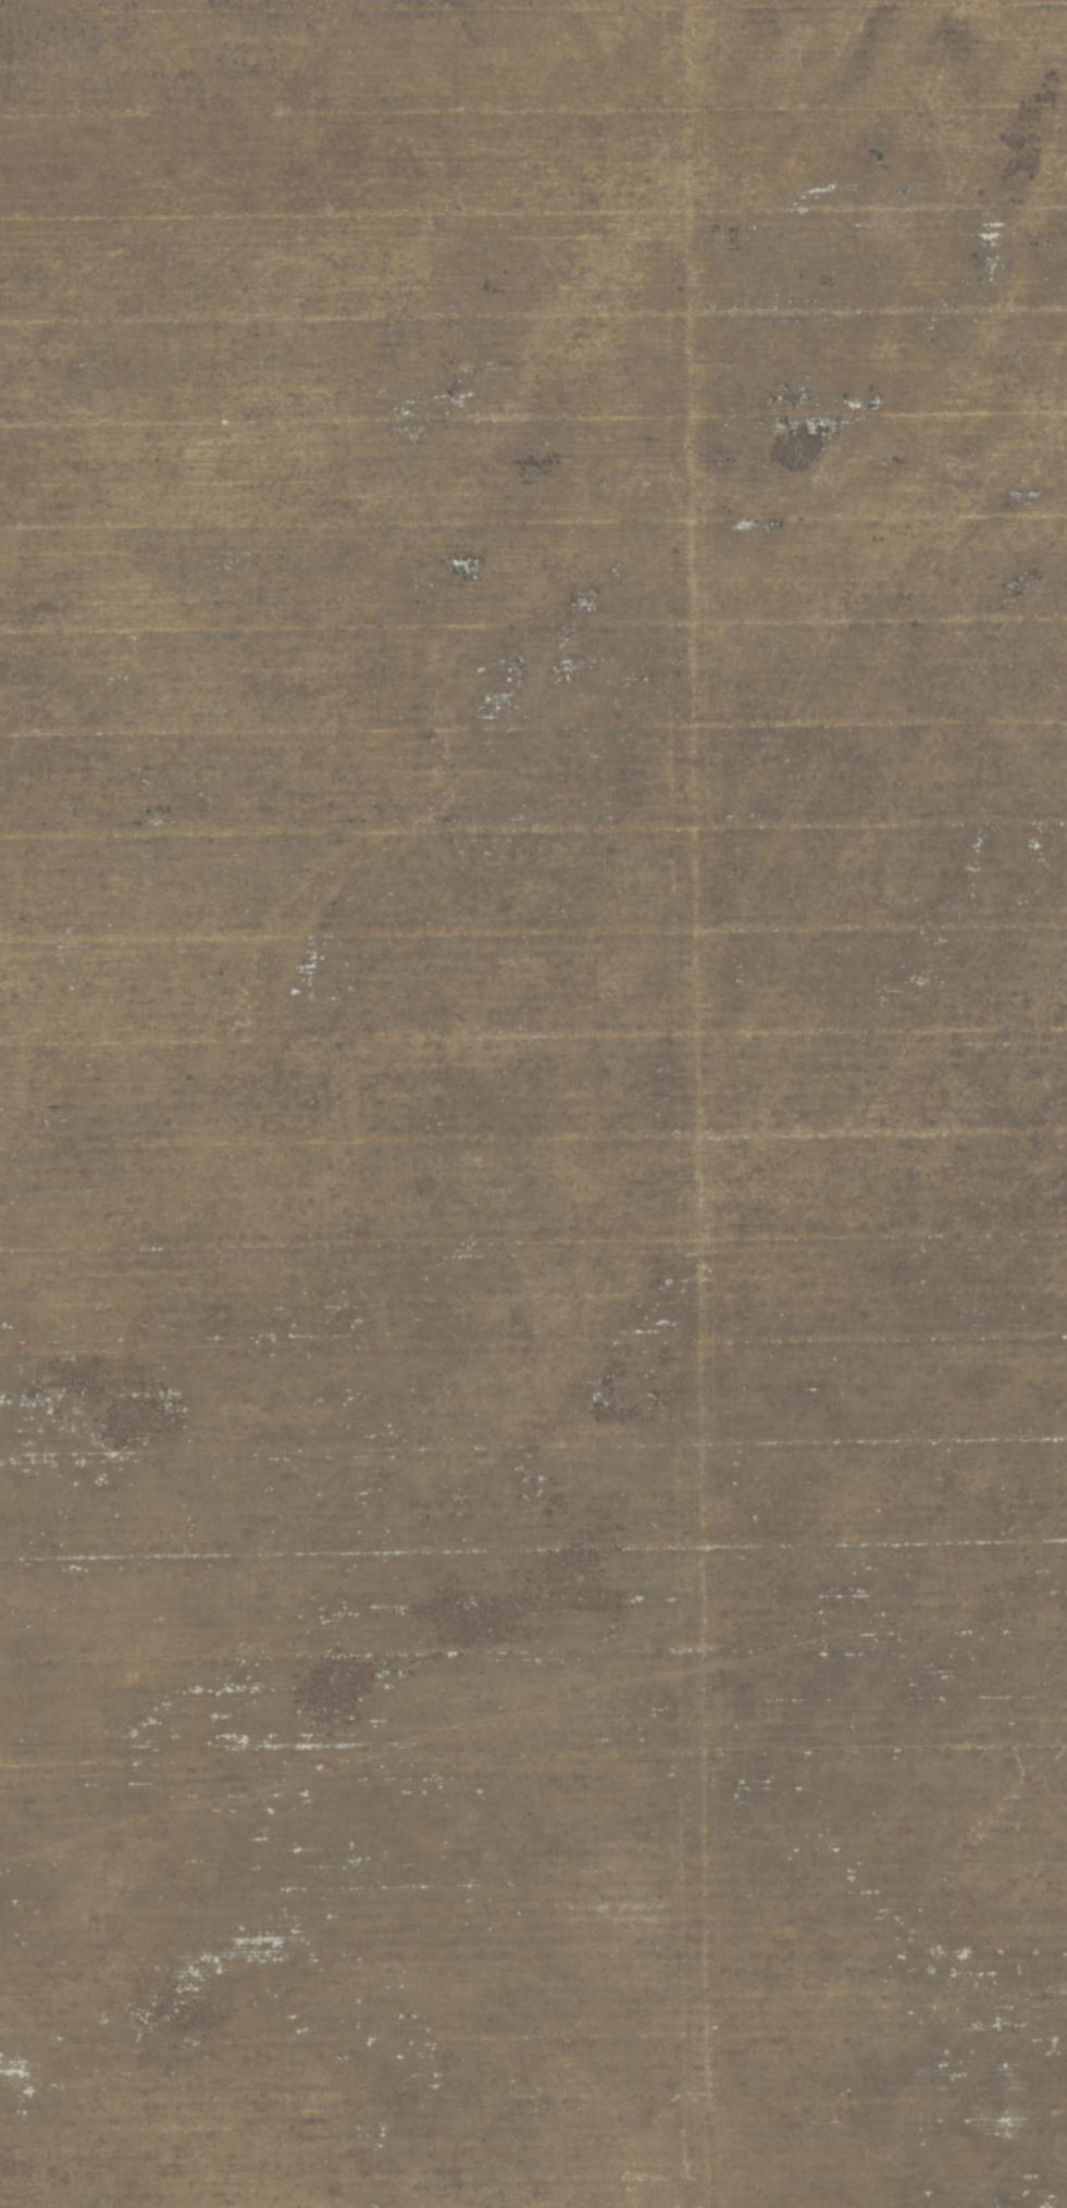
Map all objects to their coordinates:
crop: (533, 1104)
park: (533, 1104)

